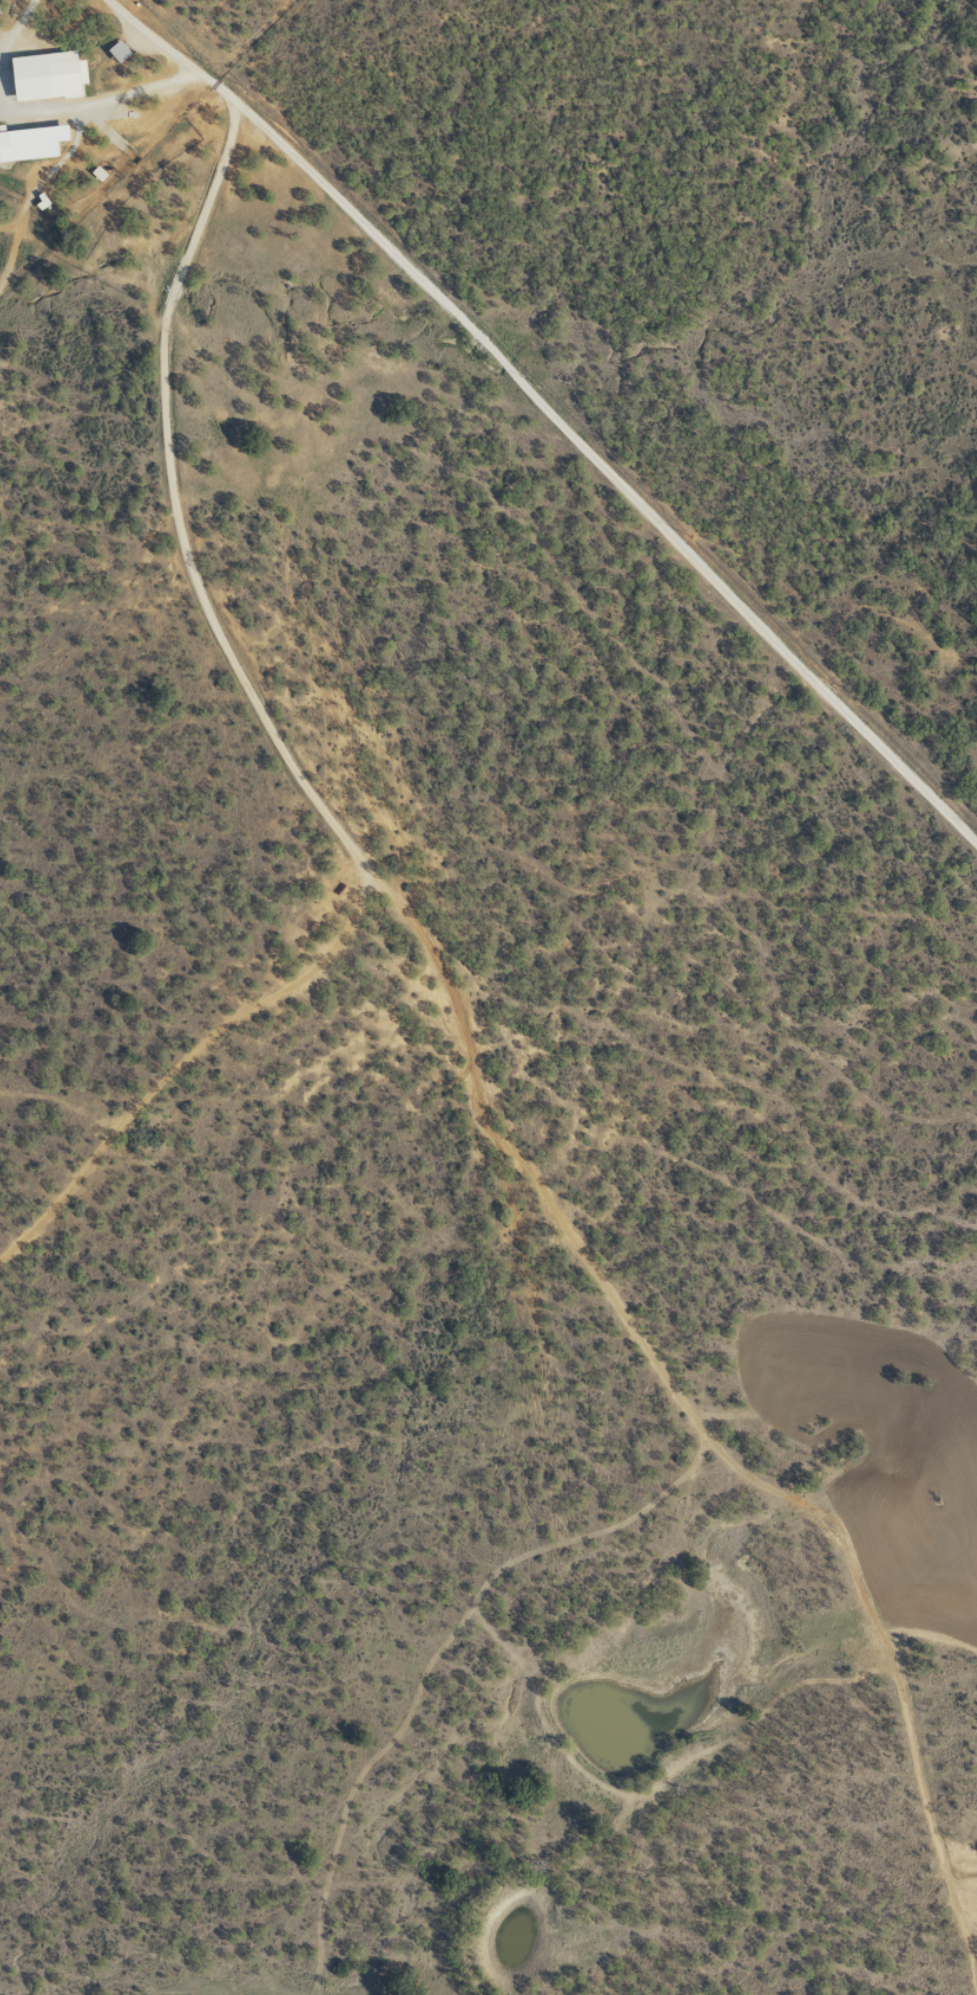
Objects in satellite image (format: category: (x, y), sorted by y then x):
building: (114, 51)
building: (43, 75)
road: (167, 84)
building: (29, 141)
road: (230, 624)

